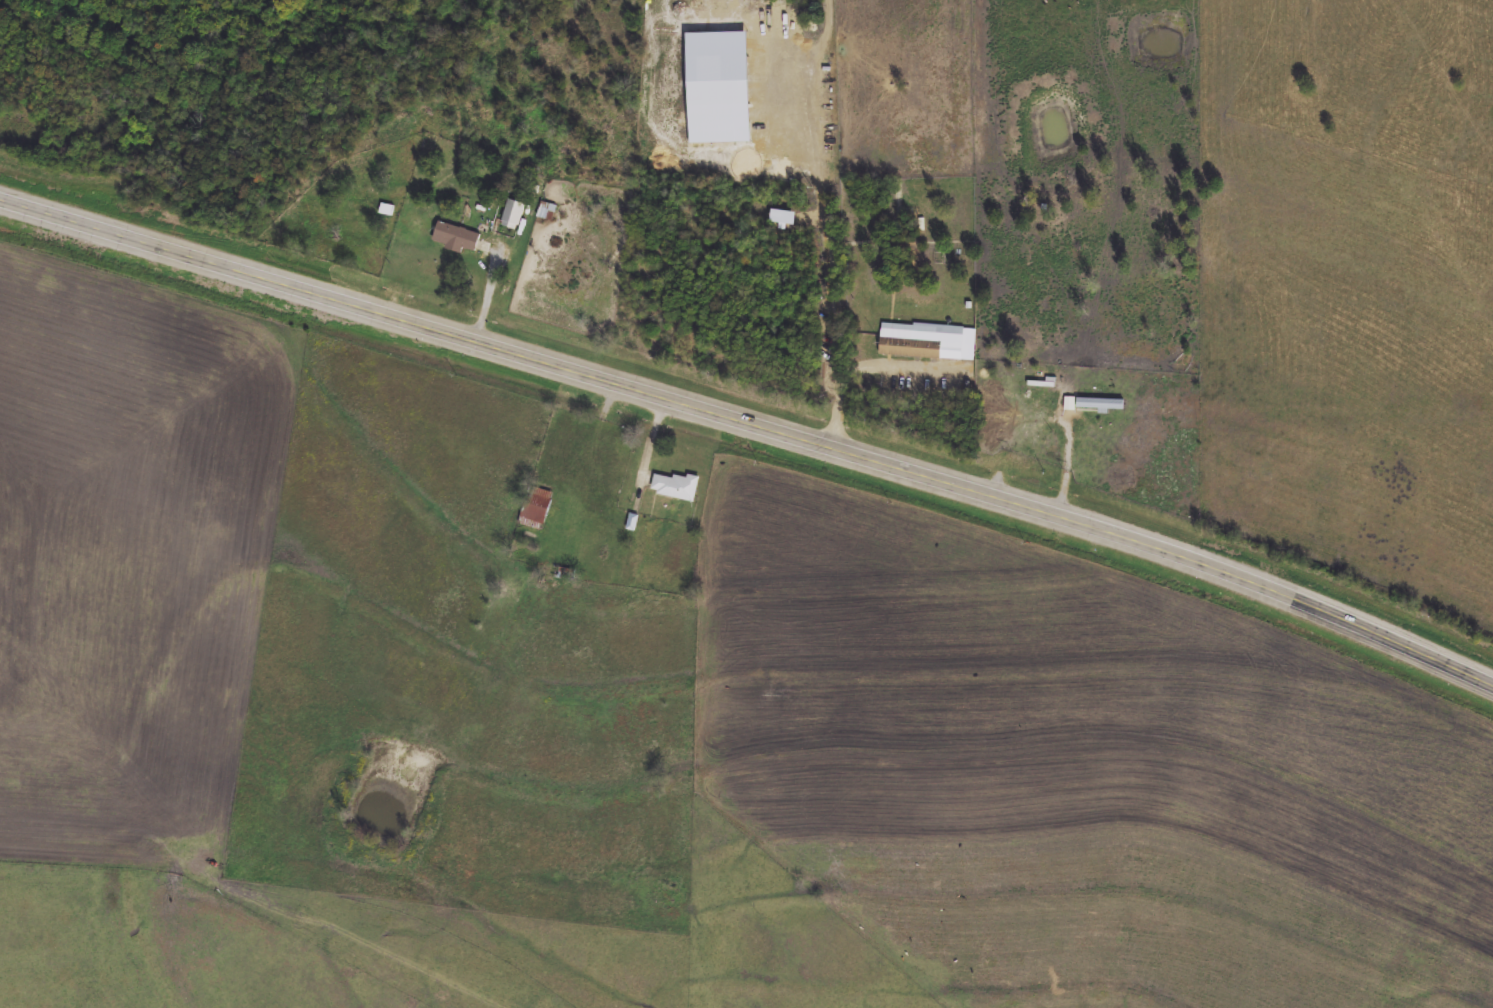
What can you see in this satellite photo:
building: (387, 210)
building: (548, 212)
building: (513, 215)
building: (456, 238)
road: (492, 272)
road: (825, 299)
building: (912, 342)
building: (961, 353)
railway: (751, 402)
building: (1097, 403)
road: (752, 421)
road: (652, 437)
building: (675, 487)
road: (574, 489)
building: (537, 508)

